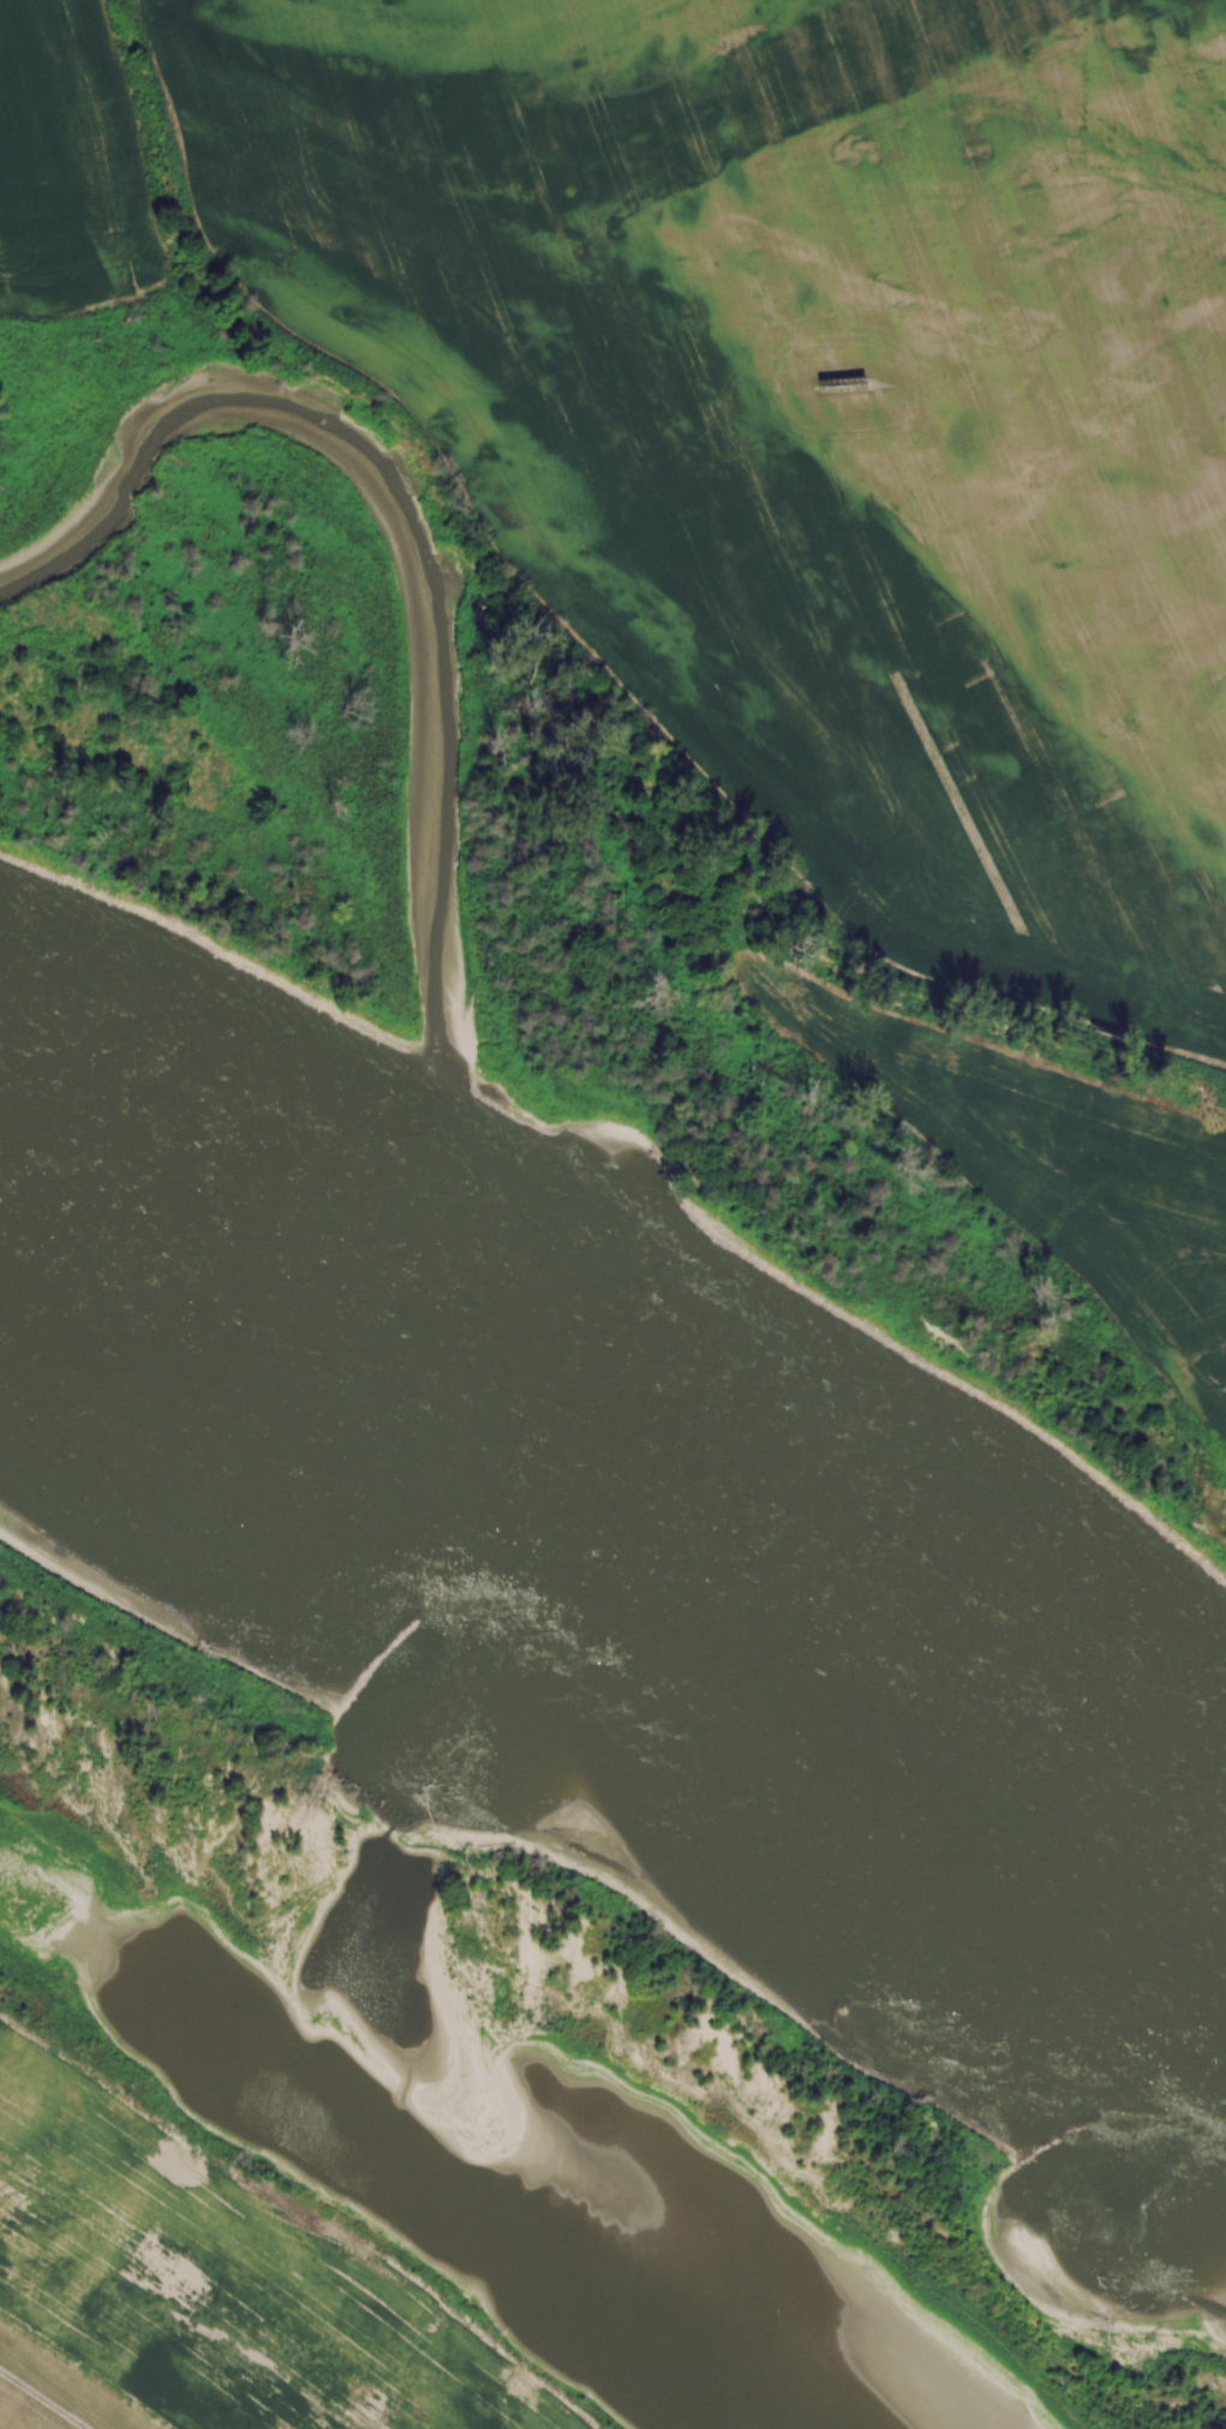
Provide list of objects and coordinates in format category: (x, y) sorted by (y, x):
river: (421, 728)
river: (650, 1518)

